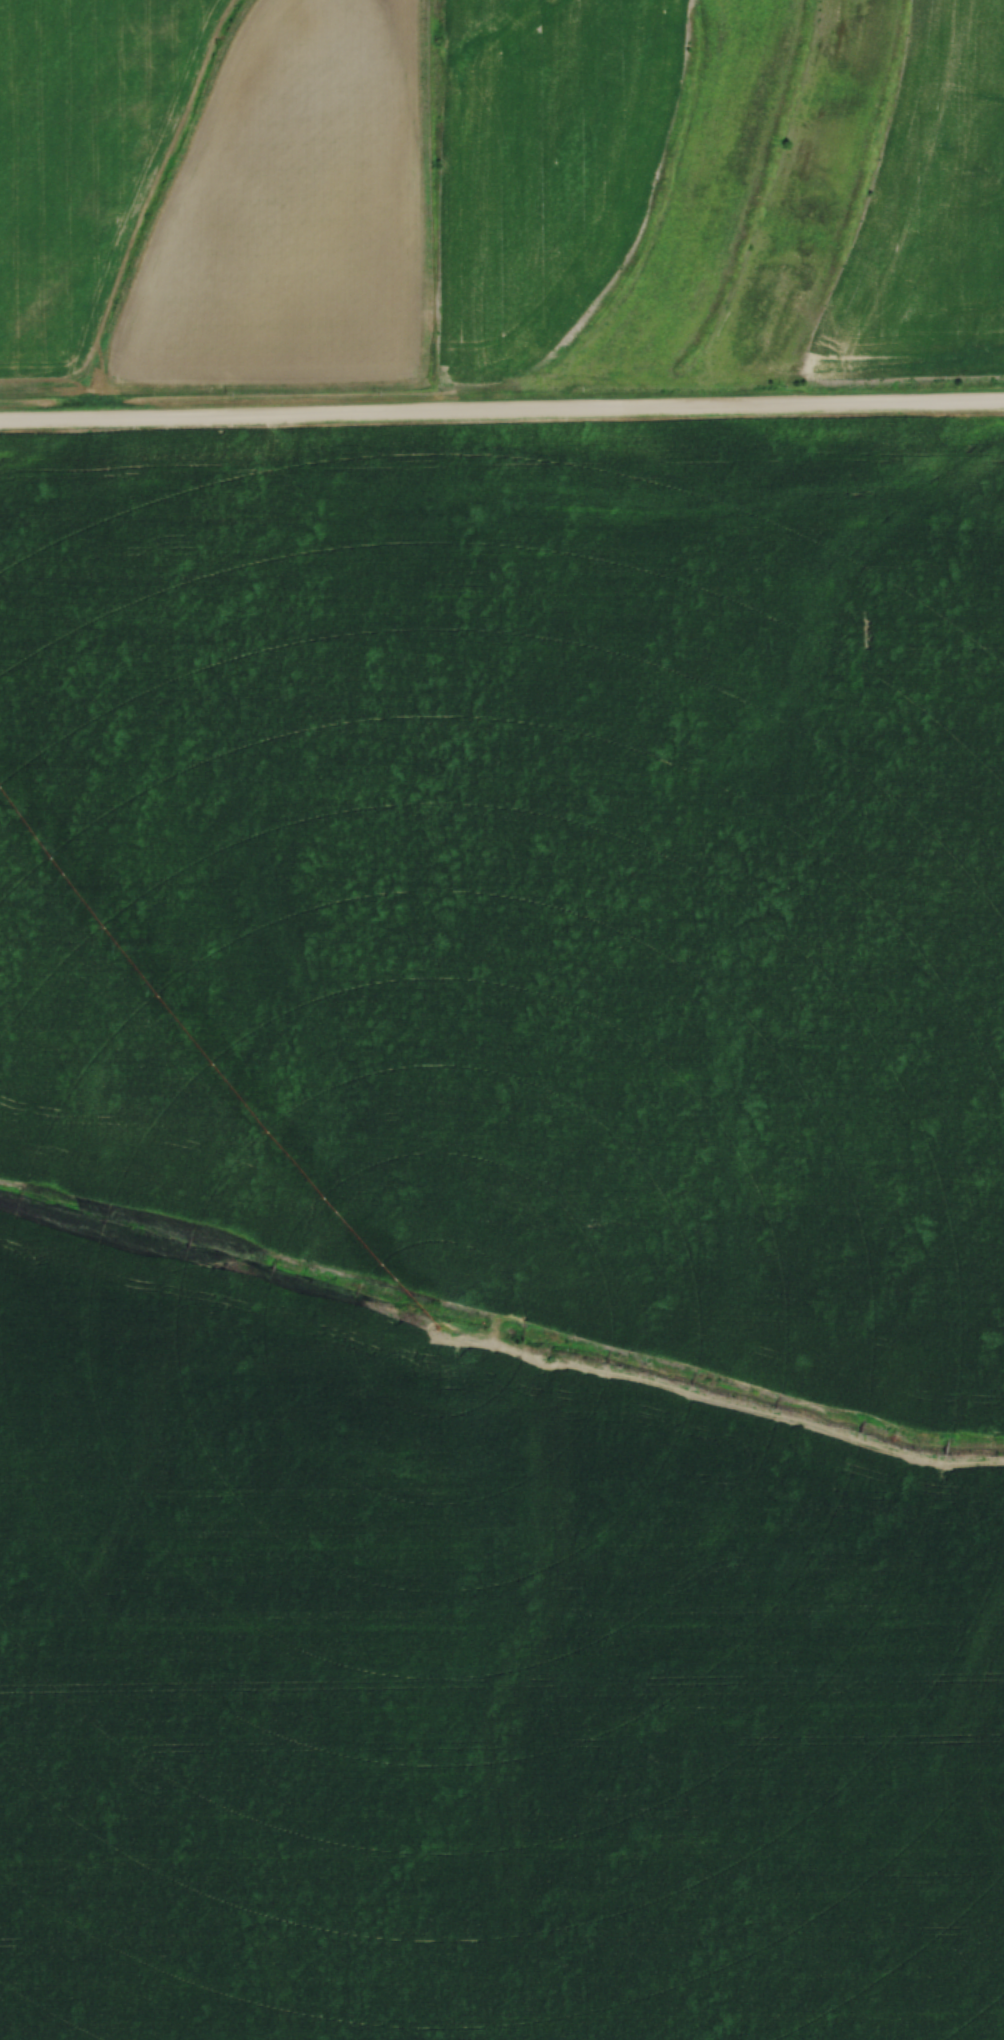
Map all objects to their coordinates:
road: (502, 414)

